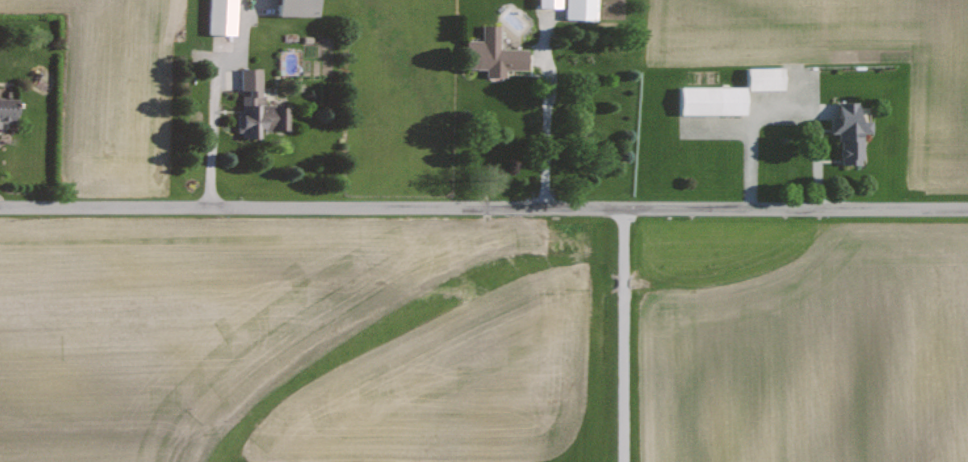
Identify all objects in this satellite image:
building: (551, 4)
building: (300, 8)
building: (582, 9)
building: (224, 17)
building: (496, 54)
building: (768, 77)
building: (714, 99)
building: (257, 107)
building: (9, 111)
road: (546, 115)
building: (851, 130)
road: (211, 135)
road: (484, 205)
road: (623, 334)

